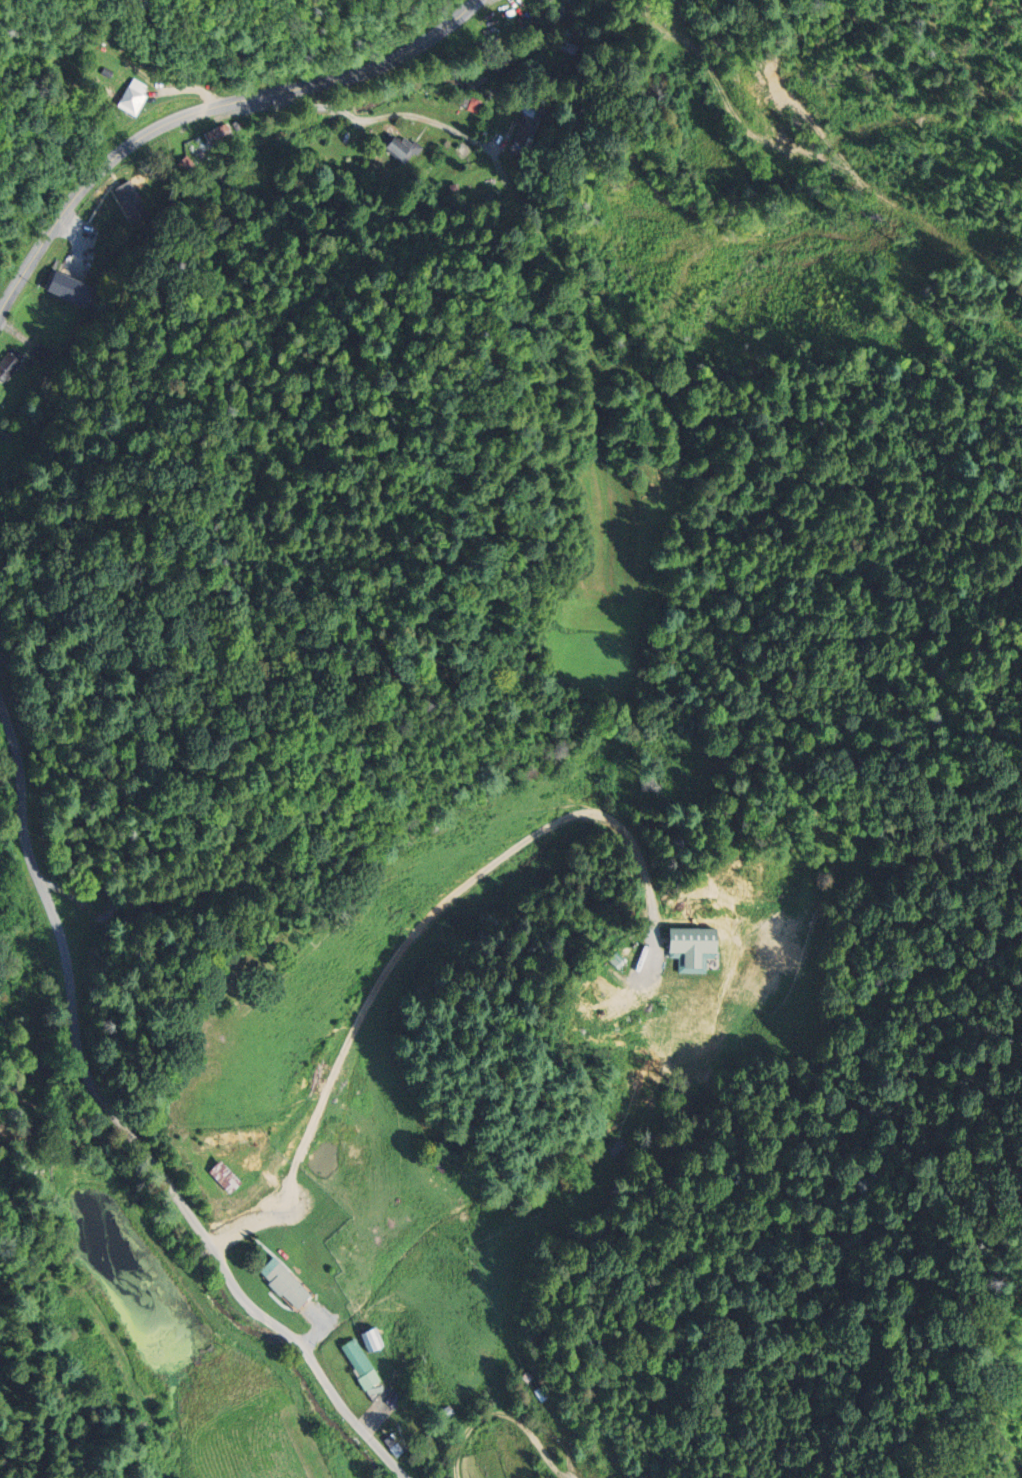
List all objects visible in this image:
road: (198, 115)
road: (124, 1128)
road: (503, 1405)

